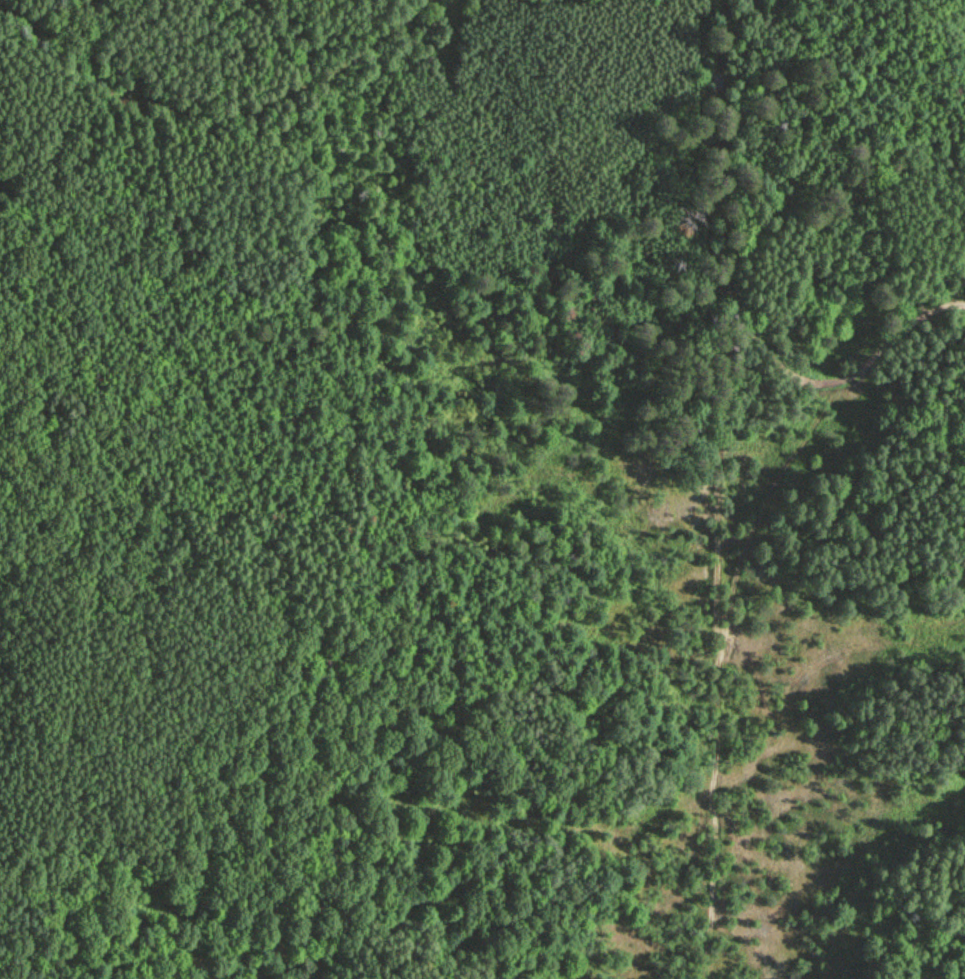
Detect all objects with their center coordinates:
road: (560, 1)
road: (241, 107)
road: (932, 187)
road: (840, 385)
road: (717, 490)
road: (757, 518)

